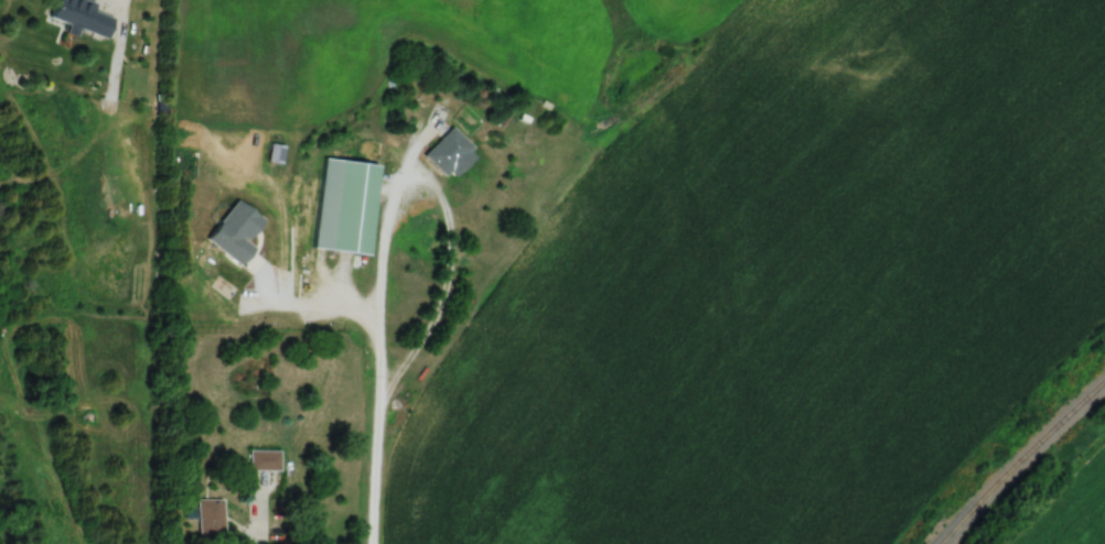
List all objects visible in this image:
building: (83, 17)
building: (448, 152)
building: (353, 208)
road: (390, 213)
road: (310, 290)
building: (264, 460)
railway: (1021, 463)
road: (373, 478)
road: (256, 515)
building: (208, 519)

